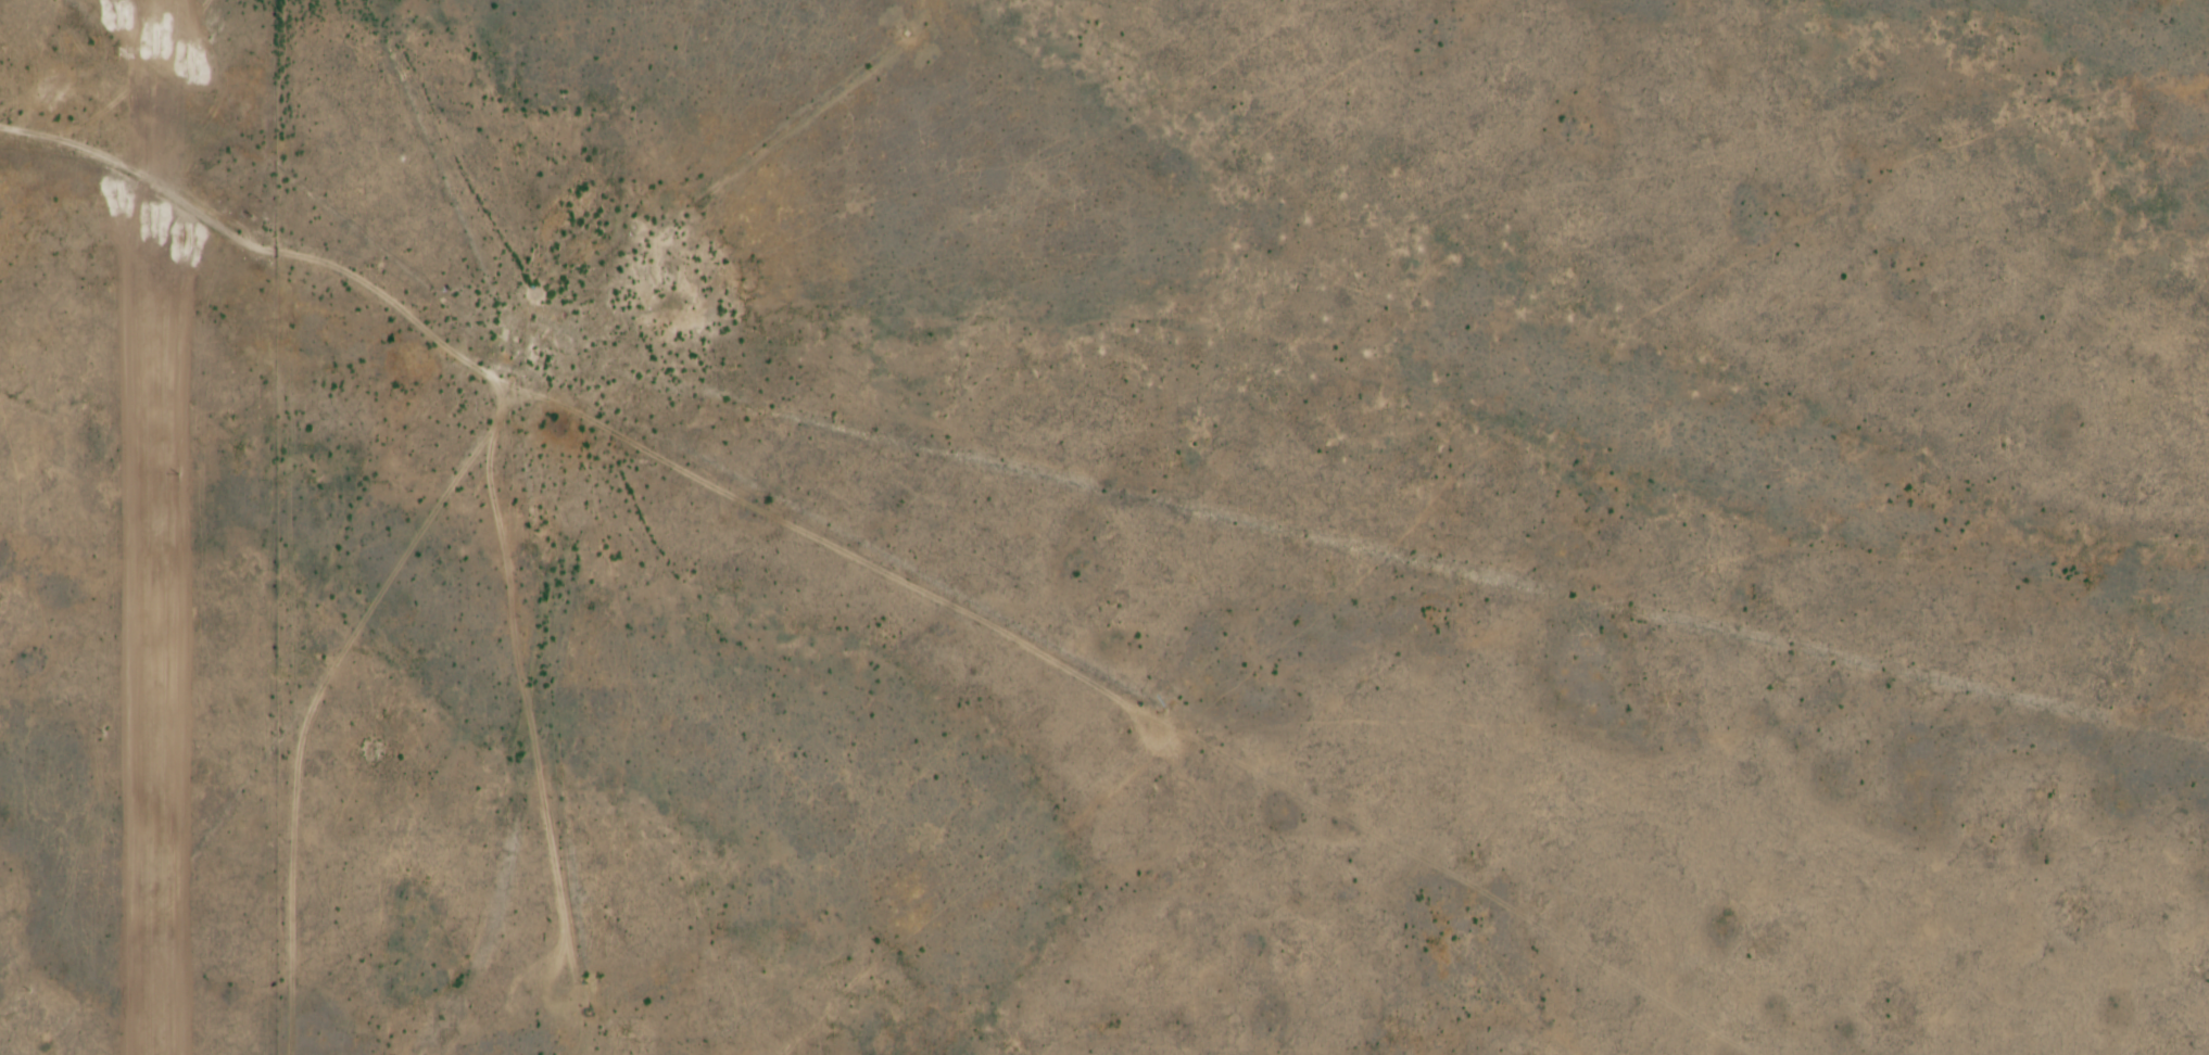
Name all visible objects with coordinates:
road: (336, 267)

